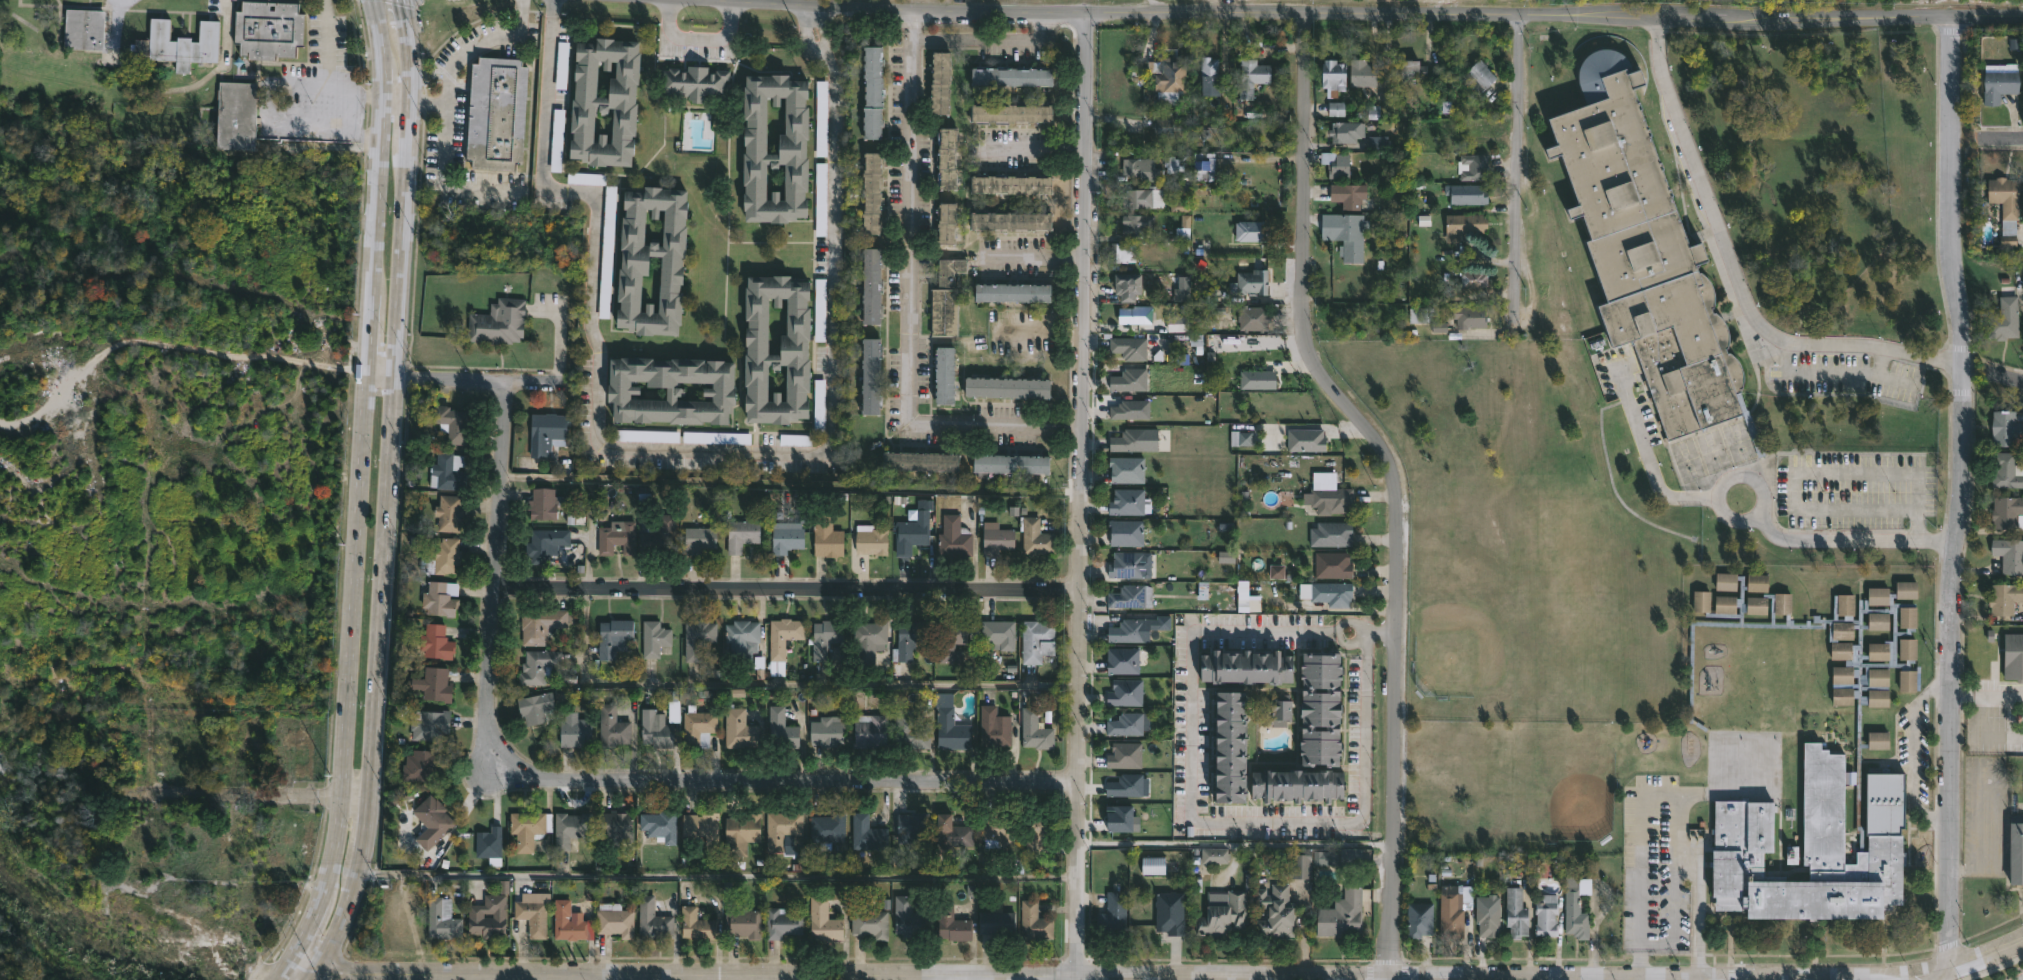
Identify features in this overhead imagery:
road: (721, 1)
road: (987, 11)
road: (1664, 16)
building: (85, 28)
building: (268, 28)
road: (698, 35)
road: (988, 39)
building: (180, 43)
road: (224, 61)
building: (1408, 70)
building: (1360, 72)
building: (1011, 76)
building: (1208, 76)
building: (1331, 76)
building: (1168, 77)
building: (1250, 77)
building: (1480, 77)
building: (1999, 81)
road: (302, 82)
building: (695, 82)
building: (941, 82)
road: (331, 83)
building: (873, 91)
road: (368, 99)
road: (450, 100)
road: (395, 101)
building: (608, 101)
road: (429, 103)
building: (1337, 110)
building: (498, 112)
building: (1013, 113)
building: (238, 115)
building: (823, 119)
road: (312, 122)
building: (1168, 123)
building: (1345, 132)
road: (2005, 138)
road: (1035, 145)
building: (796, 148)
building: (946, 159)
building: (1335, 164)
building: (1208, 165)
building: (1473, 167)
building: (1138, 168)
road: (1515, 171)
road: (1701, 180)
building: (1011, 185)
building: (872, 193)
building: (1466, 194)
building: (1347, 195)
building: (1143, 197)
building: (822, 201)
building: (1217, 202)
building: (2004, 202)
building: (1013, 221)
building: (945, 223)
building: (1136, 225)
building: (1462, 225)
building: (1248, 231)
building: (1348, 236)
road: (1034, 253)
building: (1120, 253)
building: (1644, 253)
building: (638, 260)
building: (951, 271)
building: (1472, 279)
building: (1249, 282)
building: (1131, 285)
building: (871, 286)
building: (1016, 292)
road: (907, 301)
building: (821, 303)
building: (942, 312)
building: (1134, 315)
building: (1420, 316)
building: (1468, 317)
building: (1252, 318)
building: (2003, 320)
building: (499, 322)
building: (1179, 324)
road: (1042, 333)
road: (1865, 346)
building: (1131, 347)
building: (798, 349)
road: (1832, 374)
building: (872, 376)
building: (945, 376)
road: (2004, 376)
road: (382, 377)
road: (477, 379)
building: (1131, 380)
building: (1006, 388)
building: (671, 390)
building: (821, 398)
building: (1131, 409)
building: (452, 424)
building: (2006, 427)
building: (549, 433)
building: (1129, 440)
road: (690, 449)
building: (919, 461)
building: (1012, 464)
building: (1125, 470)
building: (2006, 471)
building: (448, 472)
road: (1395, 480)
road: (1660, 484)
road: (1959, 489)
road: (361, 490)
road: (1078, 494)
road: (389, 496)
road: (1718, 497)
building: (1126, 501)
building: (1330, 501)
building: (544, 503)
road: (1916, 504)
building: (2007, 513)
building: (451, 514)
building: (1126, 532)
building: (743, 533)
road: (1917, 533)
building: (911, 534)
building: (1330, 534)
park: (1525, 534)
building: (662, 535)
building: (784, 537)
building: (825, 537)
building: (953, 538)
building: (1035, 538)
building: (618, 539)
building: (697, 539)
building: (870, 539)
building: (996, 540)
road: (1849, 540)
building: (546, 543)
building: (2009, 555)
building: (443, 558)
building: (1127, 565)
building: (1331, 566)
road: (788, 587)
building: (1331, 594)
building: (1128, 596)
building: (441, 599)
building: (2004, 599)
road: (1354, 622)
building: (543, 624)
building: (1128, 632)
building: (997, 634)
building: (824, 637)
building: (870, 637)
road: (1373, 637)
building: (615, 638)
building: (699, 638)
building: (742, 638)
building: (908, 638)
building: (655, 639)
building: (952, 641)
road: (1347, 641)
building: (437, 642)
building: (782, 642)
building: (1035, 642)
building: (2013, 657)
building: (1122, 661)
building: (539, 666)
building: (1254, 668)
building: (436, 684)
road: (690, 687)
building: (1126, 693)
building: (537, 708)
building: (1325, 710)
building: (1277, 711)
building: (132, 713)
building: (430, 724)
building: (1128, 724)
building: (948, 727)
building: (612, 728)
building: (699, 728)
building: (993, 728)
building: (656, 730)
building: (740, 730)
building: (128, 731)
building: (782, 731)
building: (1034, 731)
building: (869, 732)
building: (576, 733)
building: (826, 733)
building: (908, 733)
building: (192, 747)
building: (1232, 749)
building: (422, 767)
building: (1819, 770)
road: (602, 780)
building: (1299, 786)
road: (1663, 793)
road: (306, 795)
road: (1195, 819)
building: (433, 820)
building: (661, 825)
building: (614, 826)
building: (573, 827)
building: (700, 827)
building: (526, 828)
building: (783, 828)
building: (912, 828)
building: (828, 829)
building: (955, 832)
building: (1033, 832)
building: (740, 833)
building: (867, 834)
building: (1002, 835)
building: (234, 842)
building: (489, 842)
road: (1234, 844)
building: (2016, 850)
building: (1213, 856)
building: (1152, 865)
road: (718, 881)
building: (1453, 910)
building: (1574, 910)
building: (1276, 911)
building: (1172, 912)
building: (533, 913)
building: (1221, 914)
building: (1515, 914)
road: (1697, 914)
building: (489, 915)
building: (1341, 916)
building: (1487, 916)
building: (1545, 916)
building: (443, 918)
building: (1113, 918)
building: (615, 919)
building: (906, 919)
building: (239, 920)
building: (1418, 920)
building: (568, 921)
building: (651, 921)
building: (822, 921)
building: (871, 921)
building: (782, 922)
building: (953, 922)
building: (741, 923)
building: (1033, 924)
building: (694, 926)
building: (995, 927)
road: (1962, 960)
road: (240, 969)
road: (281, 974)
road: (680, 974)
road: (1234, 976)
road: (603, 977)
road: (1903, 977)
road: (1074, 978)
road: (1393, 978)
road: (1646, 978)
road: (1574, 979)
road: (1609, 979)
road: (1635, 979)
road: (1670, 979)
road: (1728, 979)
road: (2021, 979)

